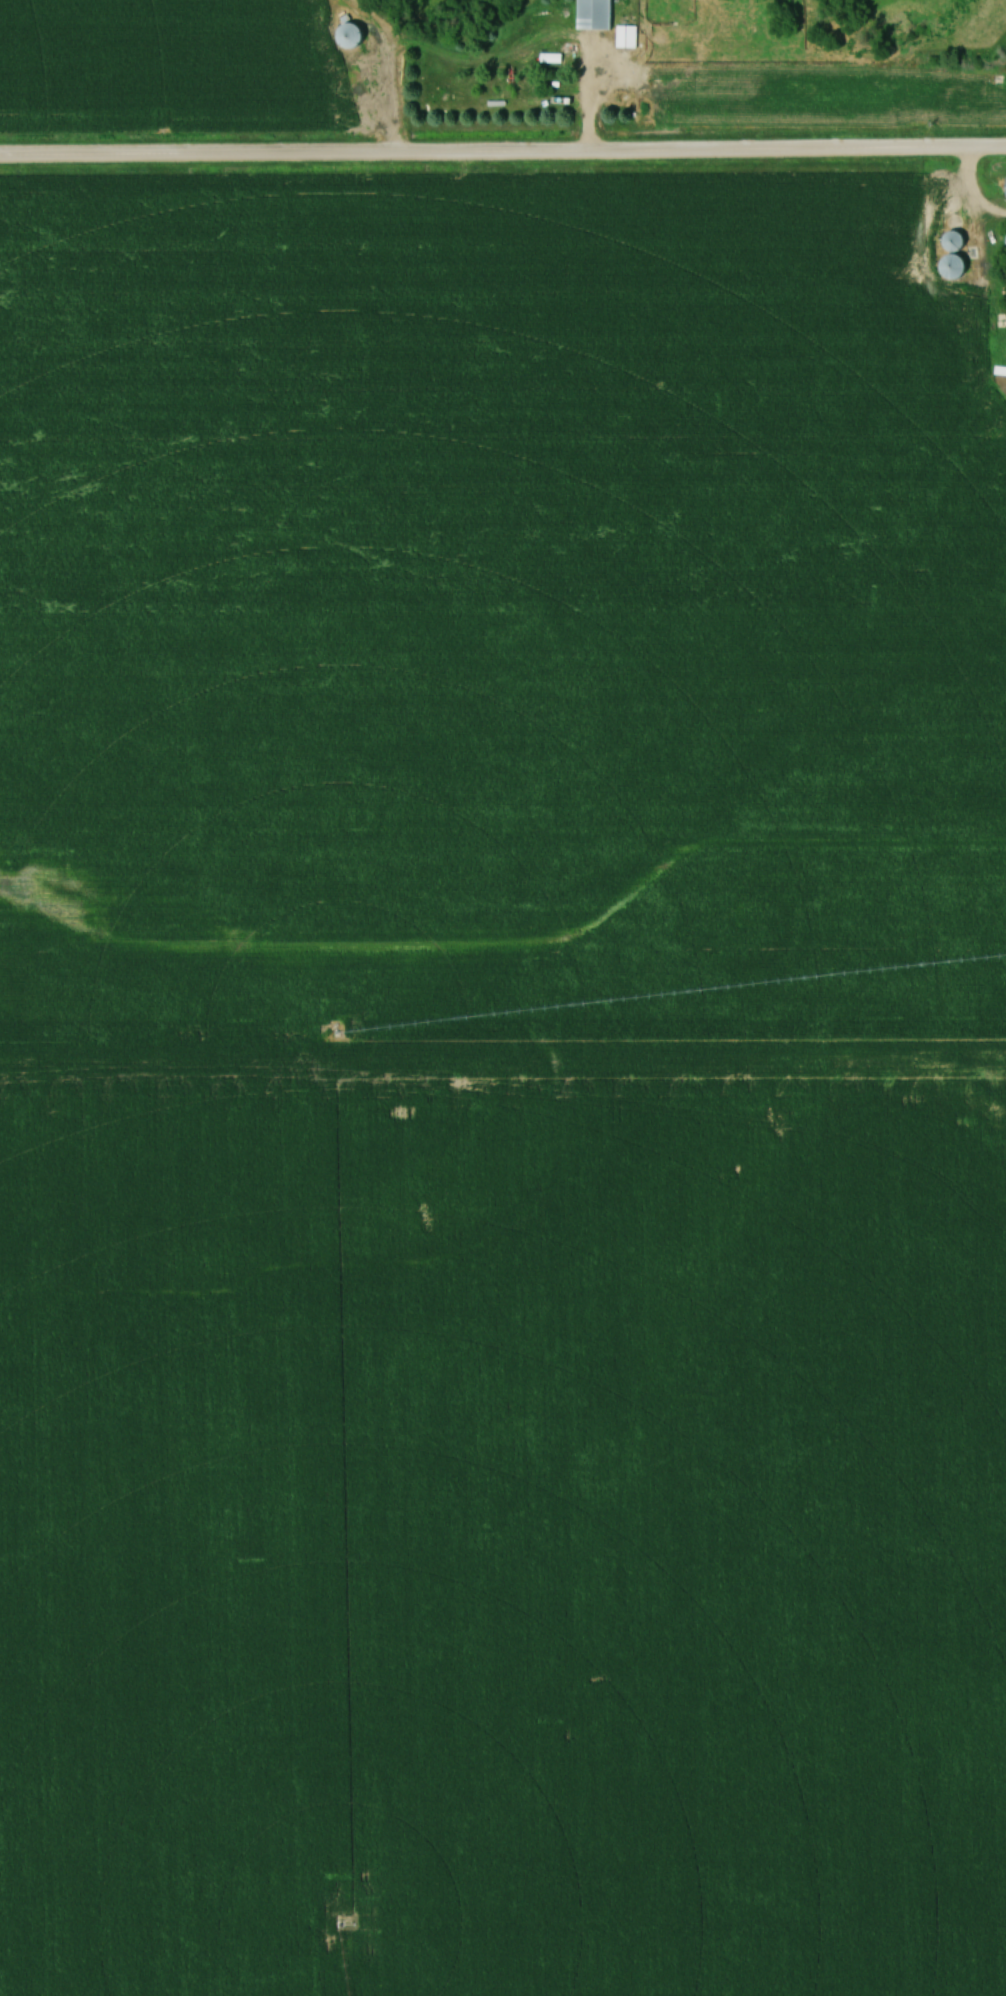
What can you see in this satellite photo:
building: (598, 13)
building: (355, 35)
building: (629, 37)
road: (588, 97)
road: (503, 155)
road: (970, 194)
building: (959, 241)
building: (957, 266)

